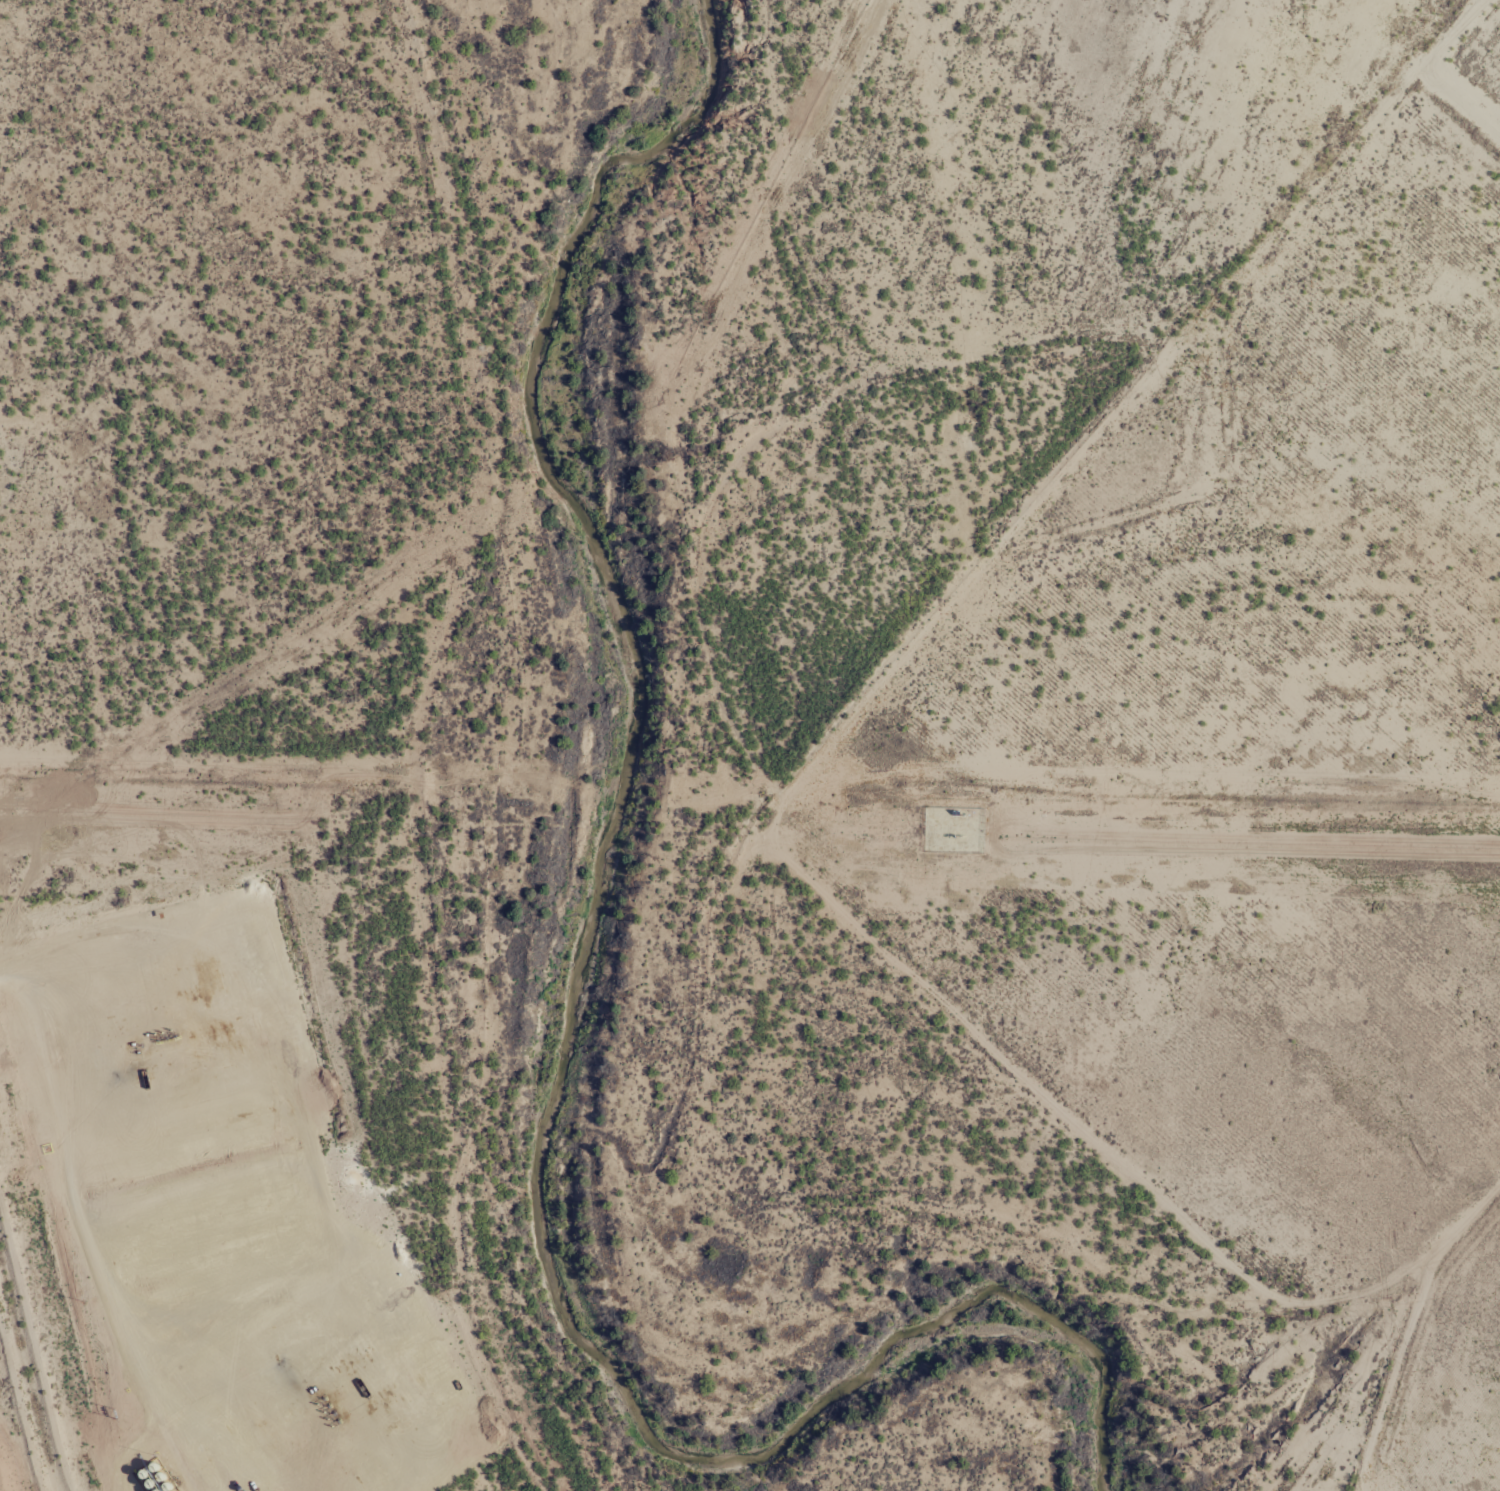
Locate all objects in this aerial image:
road: (741, 876)
river: (611, 1043)
road: (77, 1222)
road: (1351, 1296)

